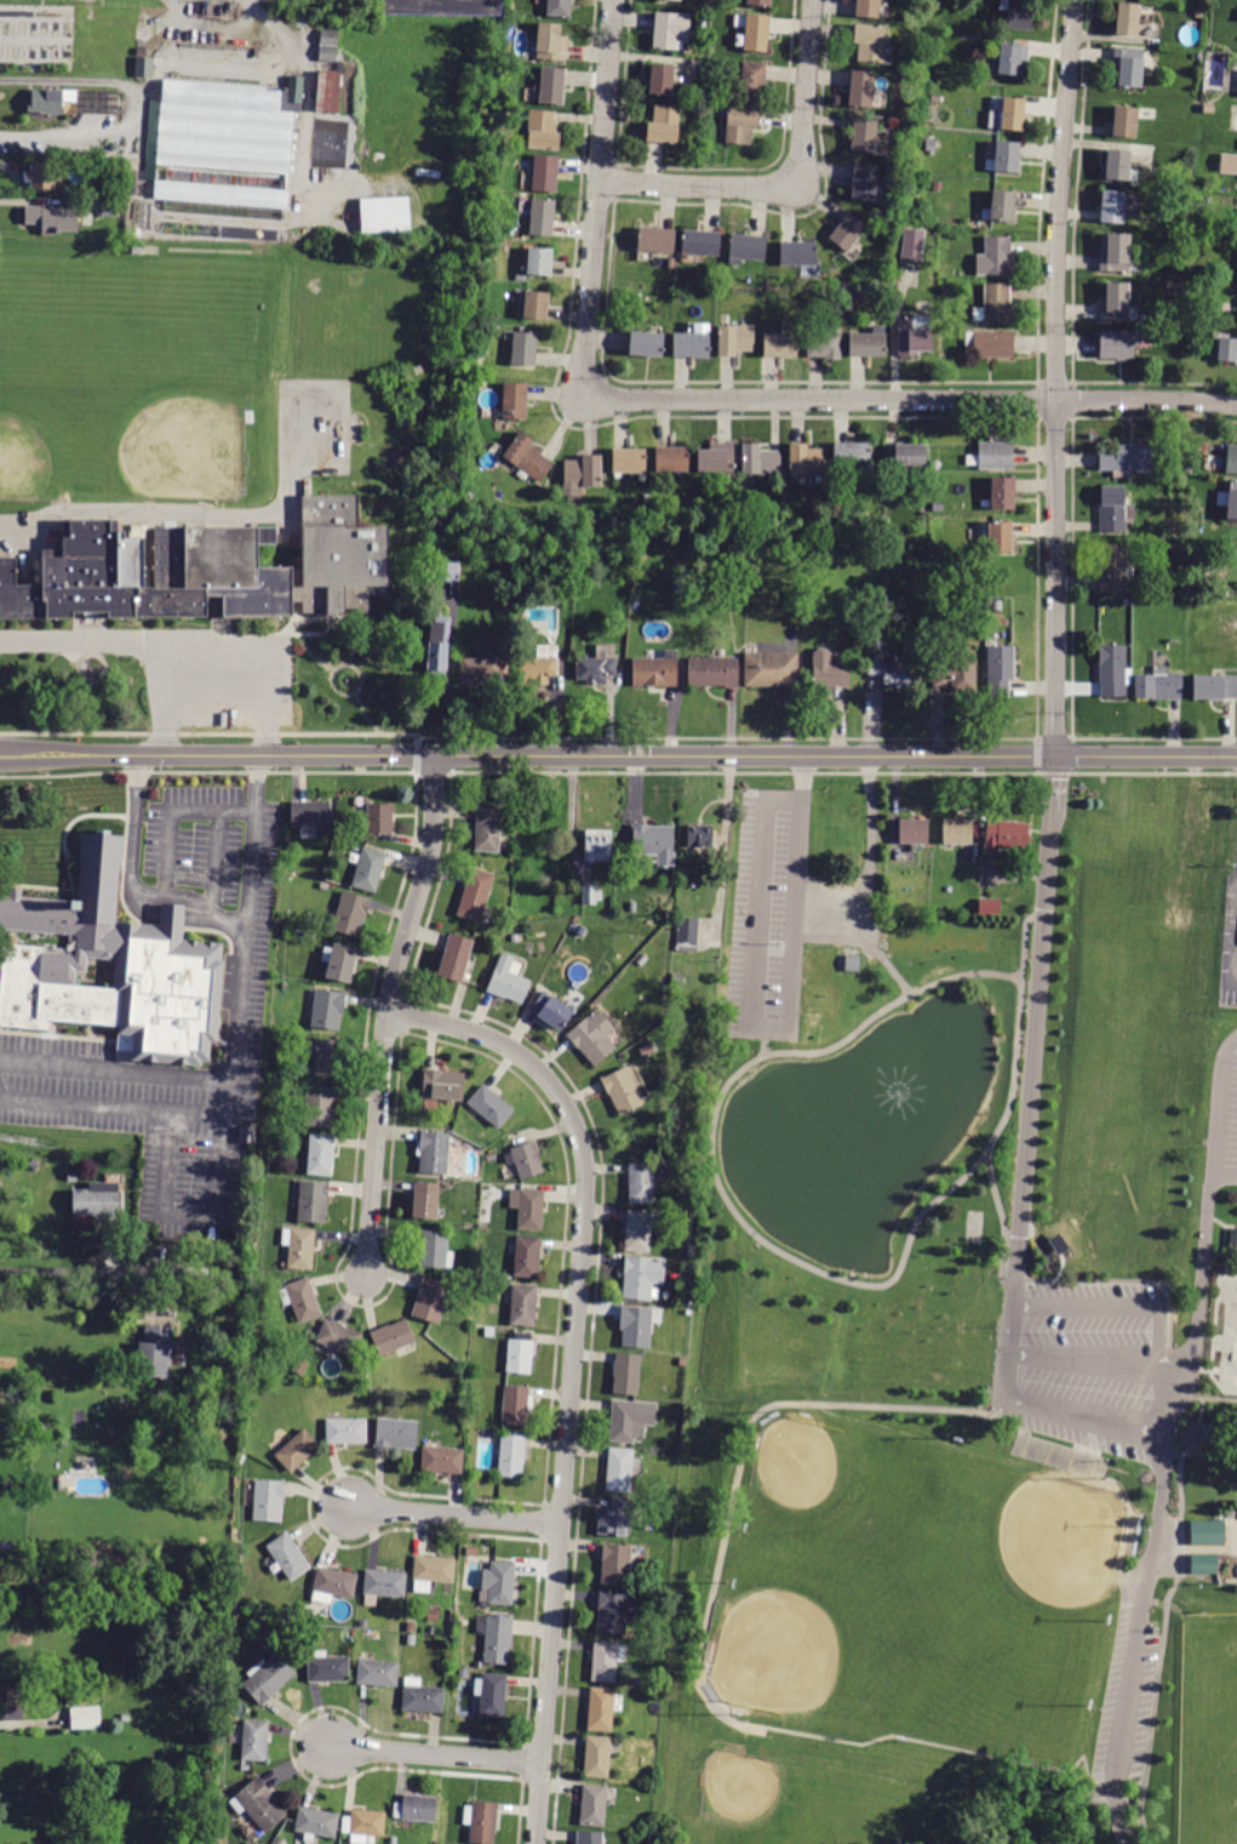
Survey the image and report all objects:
building: (676, 0)
building: (760, 2)
building: (442, 7)
building: (559, 8)
building: (867, 8)
building: (1018, 13)
building: (1128, 19)
building: (670, 30)
building: (754, 32)
building: (330, 42)
building: (551, 42)
building: (870, 42)
building: (1007, 59)
building: (144, 67)
building: (1127, 68)
building: (662, 79)
building: (752, 81)
building: (551, 86)
building: (861, 89)
building: (327, 91)
building: (105, 99)
building: (934, 99)
building: (46, 103)
building: (1012, 114)
building: (1123, 122)
building: (664, 125)
building: (740, 125)
building: (326, 127)
building: (543, 131)
building: (326, 133)
building: (864, 136)
building: (321, 139)
building: (118, 148)
building: (223, 152)
building: (1004, 158)
building: (1229, 164)
building: (1119, 166)
building: (545, 173)
building: (41, 176)
building: (865, 182)
building: (937, 185)
road: (792, 188)
building: (1001, 206)
building: (1112, 207)
building: (109, 209)
building: (1236, 209)
building: (134, 213)
building: (384, 215)
building: (53, 218)
building: (542, 218)
building: (510, 232)
building: (848, 232)
building: (655, 240)
building: (1190, 241)
building: (700, 242)
building: (746, 247)
building: (912, 247)
building: (137, 250)
building: (1115, 252)
building: (797, 253)
building: (995, 257)
building: (539, 261)
building: (670, 263)
building: (857, 299)
building: (1116, 303)
building: (995, 304)
building: (537, 307)
park: (132, 319)
building: (912, 338)
building: (735, 339)
building: (647, 343)
building: (693, 343)
building: (825, 343)
building: (867, 344)
building: (990, 344)
building: (1118, 344)
building: (780, 346)
building: (1226, 347)
building: (525, 349)
road: (1056, 377)
road: (708, 400)
park: (149, 401)
building: (515, 401)
park: (53, 422)
building: (852, 455)
building: (992, 456)
building: (527, 457)
building: (905, 457)
building: (716, 458)
building: (672, 459)
building: (806, 459)
building: (1127, 459)
building: (1231, 459)
building: (629, 461)
building: (760, 461)
building: (1187, 468)
building: (582, 474)
building: (1002, 493)
building: (1229, 501)
building: (938, 507)
building: (1113, 509)
road: (201, 513)
building: (997, 536)
building: (590, 540)
building: (201, 567)
building: (523, 569)
building: (1113, 569)
building: (447, 571)
building: (794, 596)
building: (996, 606)
road: (322, 616)
road: (333, 616)
building: (1001, 621)
road: (86, 623)
road: (218, 623)
road: (286, 627)
road: (251, 630)
road: (314, 630)
road: (219, 636)
road: (63, 638)
road: (86, 639)
road: (144, 640)
road: (172, 644)
road: (262, 644)
road: (349, 644)
building: (437, 650)
road: (309, 651)
road: (95, 652)
building: (481, 666)
building: (539, 666)
building: (597, 666)
building: (772, 669)
building: (655, 670)
building: (1000, 670)
building: (1113, 670)
building: (714, 672)
building: (829, 672)
flagpole: (93, 673)
parking lot: (217, 673)
building: (894, 673)
building: (956, 675)
road: (162, 680)
road: (212, 681)
building: (1158, 686)
building: (1214, 687)
road: (345, 691)
road: (361, 712)
road: (214, 719)
road: (212, 731)
road: (166, 735)
road: (727, 736)
road: (265, 737)
road: (1054, 737)
road: (1155, 737)
road: (414, 755)
road: (618, 755)
road: (1038, 755)
road: (210, 770)
road: (433, 770)
road: (841, 771)
road: (254, 772)
road: (1053, 782)
flagpole: (1089, 793)
road: (253, 799)
flagpole: (81, 807)
road: (170, 809)
road: (131, 815)
building: (310, 815)
road: (142, 816)
building: (379, 818)
road: (1050, 821)
road: (65, 826)
building: (489, 828)
building: (914, 832)
building: (958, 832)
building: (1006, 835)
building: (699, 837)
building: (653, 844)
building: (1208, 845)
building: (599, 846)
road: (69, 854)
road: (212, 857)
building: (370, 869)
road: (870, 873)
road: (130, 879)
road: (36, 884)
building: (475, 895)
building: (591, 895)
road: (118, 900)
building: (631, 906)
building: (990, 907)
road: (164, 912)
building: (350, 914)
road: (170, 919)
road: (864, 932)
building: (687, 935)
road: (241, 943)
road: (864, 943)
road: (1235, 952)
building: (456, 958)
building: (642, 960)
building: (339, 961)
building: (852, 963)
building: (110, 966)
building: (677, 980)
building: (508, 981)
road: (1235, 982)
building: (327, 1009)
building: (551, 1011)
road: (385, 1012)
road: (50, 1027)
road: (771, 1029)
road: (88, 1031)
road: (67, 1034)
building: (592, 1037)
building: (327, 1058)
road: (115, 1071)
building: (308, 1071)
building: (443, 1085)
building: (623, 1090)
road: (1029, 1092)
road: (227, 1097)
road: (1013, 1097)
road: (111, 1104)
building: (319, 1106)
building: (491, 1106)
fountain: (842, 1111)
building: (245, 1134)
building: (433, 1153)
building: (321, 1155)
building: (491, 1157)
building: (527, 1160)
road: (714, 1164)
road: (1222, 1172)
building: (641, 1183)
road: (1207, 1198)
building: (97, 1200)
building: (425, 1200)
building: (311, 1201)
building: (528, 1209)
road: (188, 1215)
building: (640, 1231)
building: (1232, 1240)
building: (1058, 1243)
building: (299, 1248)
building: (433, 1249)
building: (527, 1257)
road: (78, 1269)
building: (641, 1277)
building: (453, 1297)
building: (300, 1300)
building: (431, 1300)
road: (1021, 1303)
road: (1157, 1303)
building: (522, 1304)
building: (638, 1325)
building: (489, 1331)
park: (1226, 1336)
building: (391, 1337)
building: (337, 1340)
park: (960, 1347)
building: (155, 1352)
road: (1019, 1354)
building: (519, 1357)
road: (1095, 1360)
building: (8, 1363)
road: (1169, 1365)
building: (299, 1366)
road: (573, 1368)
building: (626, 1374)
building: (515, 1404)
road: (1046, 1406)
building: (629, 1421)
road: (1150, 1426)
building: (41, 1431)
building: (347, 1432)
building: (396, 1434)
building: (1209, 1434)
road: (1172, 1446)
building: (294, 1450)
building: (511, 1456)
building: (441, 1460)
road: (1180, 1468)
building: (622, 1469)
building: (268, 1501)
road: (456, 1515)
building: (615, 1519)
building: (1208, 1532)
park: (844, 1534)
road: (1181, 1548)
road: (1197, 1549)
building: (288, 1557)
building: (1203, 1564)
building: (615, 1565)
park: (989, 1571)
building: (431, 1572)
building: (499, 1582)
building: (334, 1583)
building: (383, 1585)
park: (851, 1609)
building: (612, 1614)
building: (291, 1615)
building: (433, 1616)
building: (411, 1627)
road: (1133, 1634)
building: (410, 1639)
building: (498, 1640)
road: (701, 1659)
building: (606, 1661)
building: (327, 1668)
building: (377, 1673)
building: (268, 1678)
building: (491, 1694)
building: (16, 1697)
building: (422, 1697)
building: (601, 1709)
road: (1156, 1711)
building: (85, 1718)
building: (125, 1718)
park: (1208, 1728)
building: (253, 1740)
road: (437, 1754)
building: (596, 1755)
park: (781, 1800)
building: (258, 1804)
building: (592, 1805)
building: (416, 1808)
building: (480, 1822)
building: (315, 1823)
building: (363, 1825)
building: (589, 1838)
building: (251, 1843)

